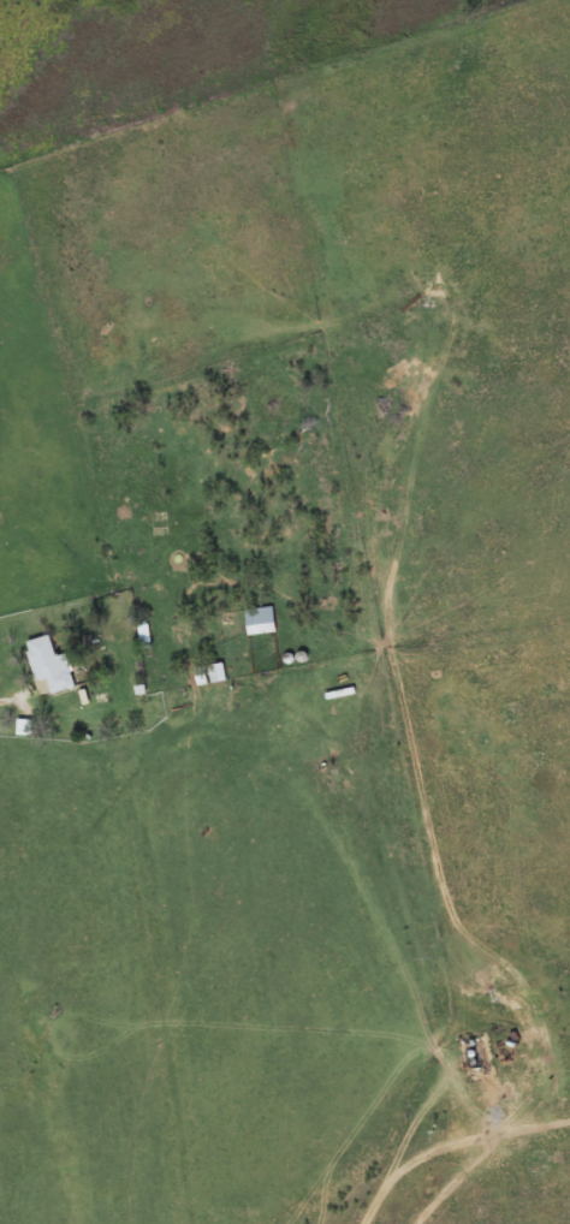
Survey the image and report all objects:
building: (265, 623)
building: (55, 666)
building: (214, 676)
road: (6, 688)
road: (393, 1146)

